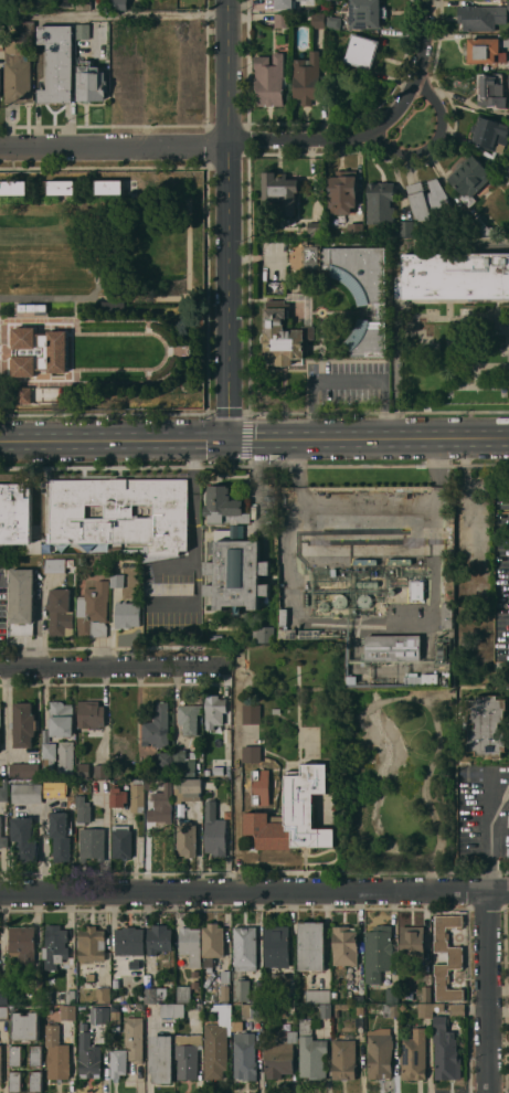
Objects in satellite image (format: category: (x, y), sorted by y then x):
building: (64, 2)
building: (156, 2)
building: (285, 3)
building: (83, 4)
building: (119, 4)
building: (508, 6)
road: (115, 13)
building: (367, 14)
building: (480, 17)
building: (283, 20)
building: (318, 20)
building: (333, 22)
building: (25, 25)
building: (83, 31)
building: (2, 34)
building: (486, 49)
building: (362, 51)
building: (56, 63)
building: (18, 73)
building: (307, 77)
building: (269, 79)
building: (0, 81)
building: (91, 83)
building: (491, 89)
park: (414, 125)
road: (375, 128)
building: (489, 136)
road: (433, 142)
road: (116, 151)
building: (508, 171)
building: (471, 178)
building: (13, 187)
building: (61, 187)
building: (109, 187)
building: (280, 190)
building: (342, 191)
building: (427, 198)
building: (380, 201)
road: (230, 220)
building: (406, 227)
building: (316, 229)
building: (356, 230)
building: (312, 256)
building: (454, 275)
building: (362, 293)
building: (284, 335)
building: (39, 351)
road: (347, 378)
building: (24, 394)
road: (254, 439)
traffic signals: (230, 441)
road: (254, 487)
building: (120, 513)
road: (365, 513)
building: (17, 516)
road: (194, 552)
road: (289, 554)
building: (233, 555)
building: (81, 560)
building: (411, 561)
building: (54, 565)
road: (180, 565)
building: (116, 581)
building: (367, 583)
building: (417, 590)
building: (340, 601)
building: (364, 601)
building: (21, 602)
building: (324, 606)
building: (93, 609)
building: (60, 612)
building: (127, 614)
building: (447, 615)
building: (285, 617)
building: (263, 634)
building: (393, 647)
road: (114, 664)
building: (422, 678)
building: (214, 710)
building: (276, 710)
building: (252, 713)
building: (91, 714)
building: (0, 715)
road: (6, 717)
building: (189, 718)
building: (61, 719)
building: (23, 724)
building: (487, 725)
building: (157, 728)
building: (252, 753)
building: (49, 756)
building: (65, 758)
building: (165, 758)
building: (183, 764)
building: (24, 770)
building: (83, 771)
building: (102, 771)
building: (220, 771)
road: (237, 776)
building: (151, 783)
building: (56, 789)
building: (188, 789)
building: (3, 790)
building: (26, 793)
building: (118, 795)
building: (137, 796)
building: (161, 805)
building: (83, 810)
building: (293, 814)
building: (214, 831)
road: (489, 832)
building: (61, 836)
building: (2, 838)
building: (23, 839)
building: (187, 839)
building: (121, 841)
building: (92, 843)
road: (254, 889)
building: (129, 941)
building: (412, 942)
building: (160, 943)
building: (22, 944)
building: (92, 944)
building: (191, 944)
building: (212, 944)
building: (311, 945)
building: (344, 945)
building: (55, 946)
building: (245, 947)
building: (276, 947)
building: (379, 953)
building: (455, 957)
building: (134, 965)
building: (225, 976)
building: (151, 977)
building: (91, 978)
building: (194, 978)
road: (489, 989)
building: (211, 990)
building: (241, 990)
building: (3, 993)
building: (35, 993)
building: (224, 993)
building: (183, 994)
building: (426, 994)
building: (103, 995)
building: (155, 995)
building: (255, 996)
building: (318, 996)
building: (392, 996)
building: (70, 997)
building: (82, 1007)
building: (198, 1007)
building: (290, 1009)
building: (172, 1010)
building: (252, 1010)
building: (326, 1010)
building: (360, 1010)
building: (391, 1010)
building: (425, 1010)
building: (3, 1012)
building: (67, 1012)
building: (103, 1015)
building: (116, 1017)
building: (25, 1026)
building: (135, 1038)
building: (446, 1041)
building: (218, 1042)
building: (311, 1052)
building: (380, 1052)
building: (56, 1053)
building: (244, 1053)
building: (280, 1053)
building: (35, 1054)
building: (188, 1054)
building: (15, 1055)
building: (414, 1055)
building: (89, 1057)
building: (161, 1058)
building: (343, 1059)
building: (0, 1063)
building: (119, 1063)
building: (15, 1081)
building: (35, 1081)

